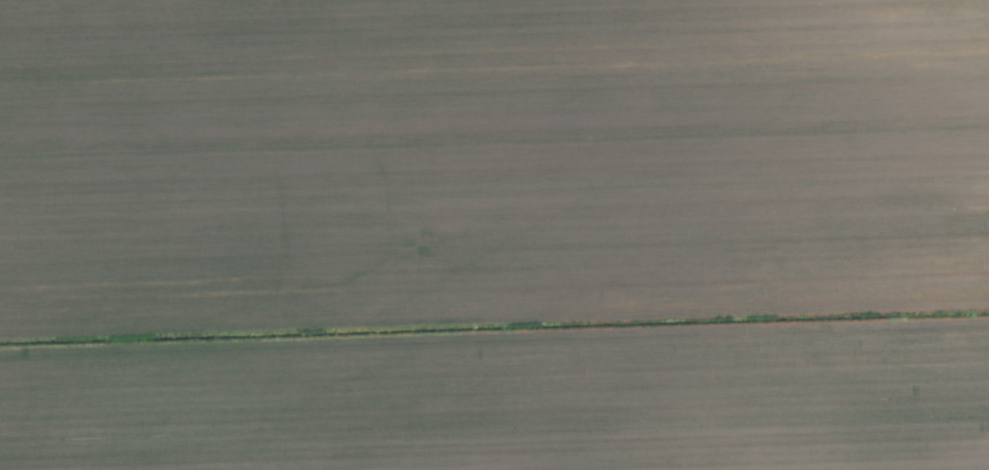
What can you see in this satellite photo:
crop: (494, 235)

